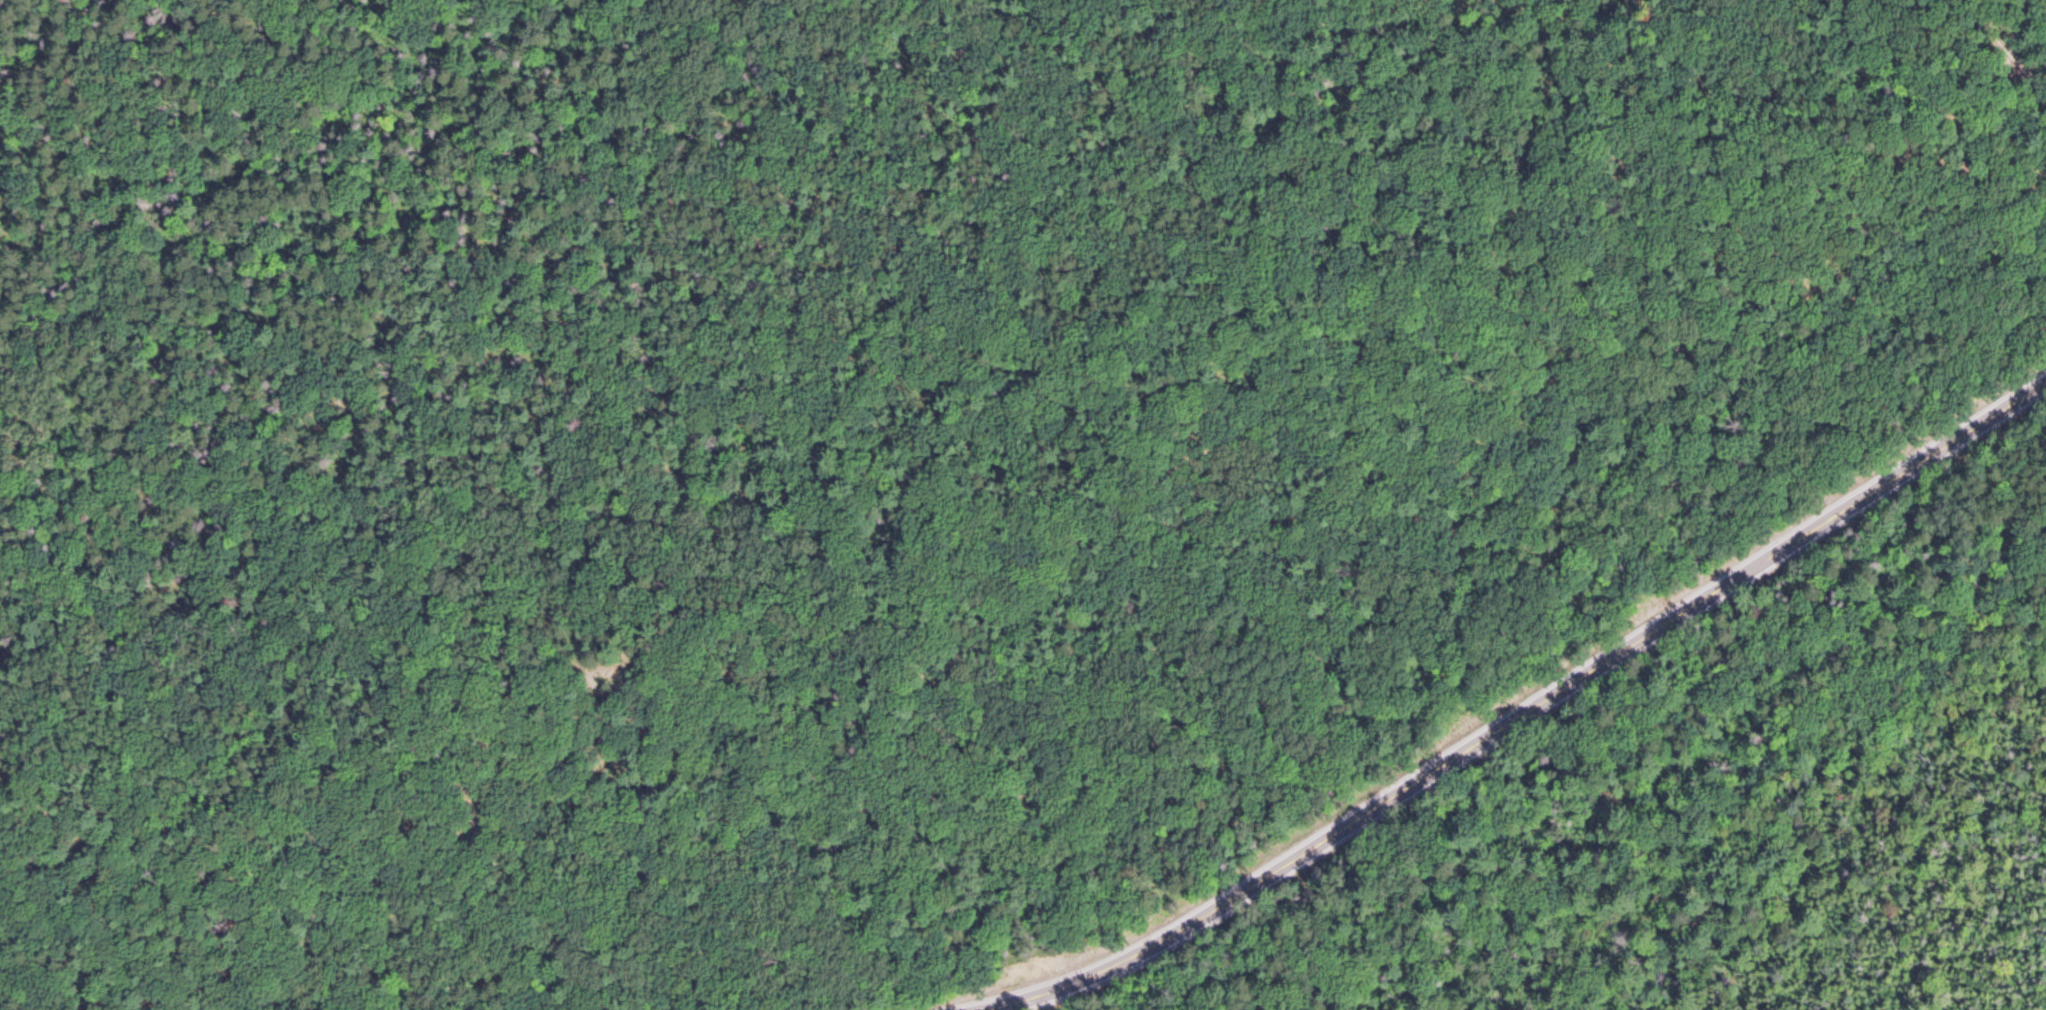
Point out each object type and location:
road: (2010, 53)
road: (174, 150)
road: (1526, 712)
road: (1036, 1004)

